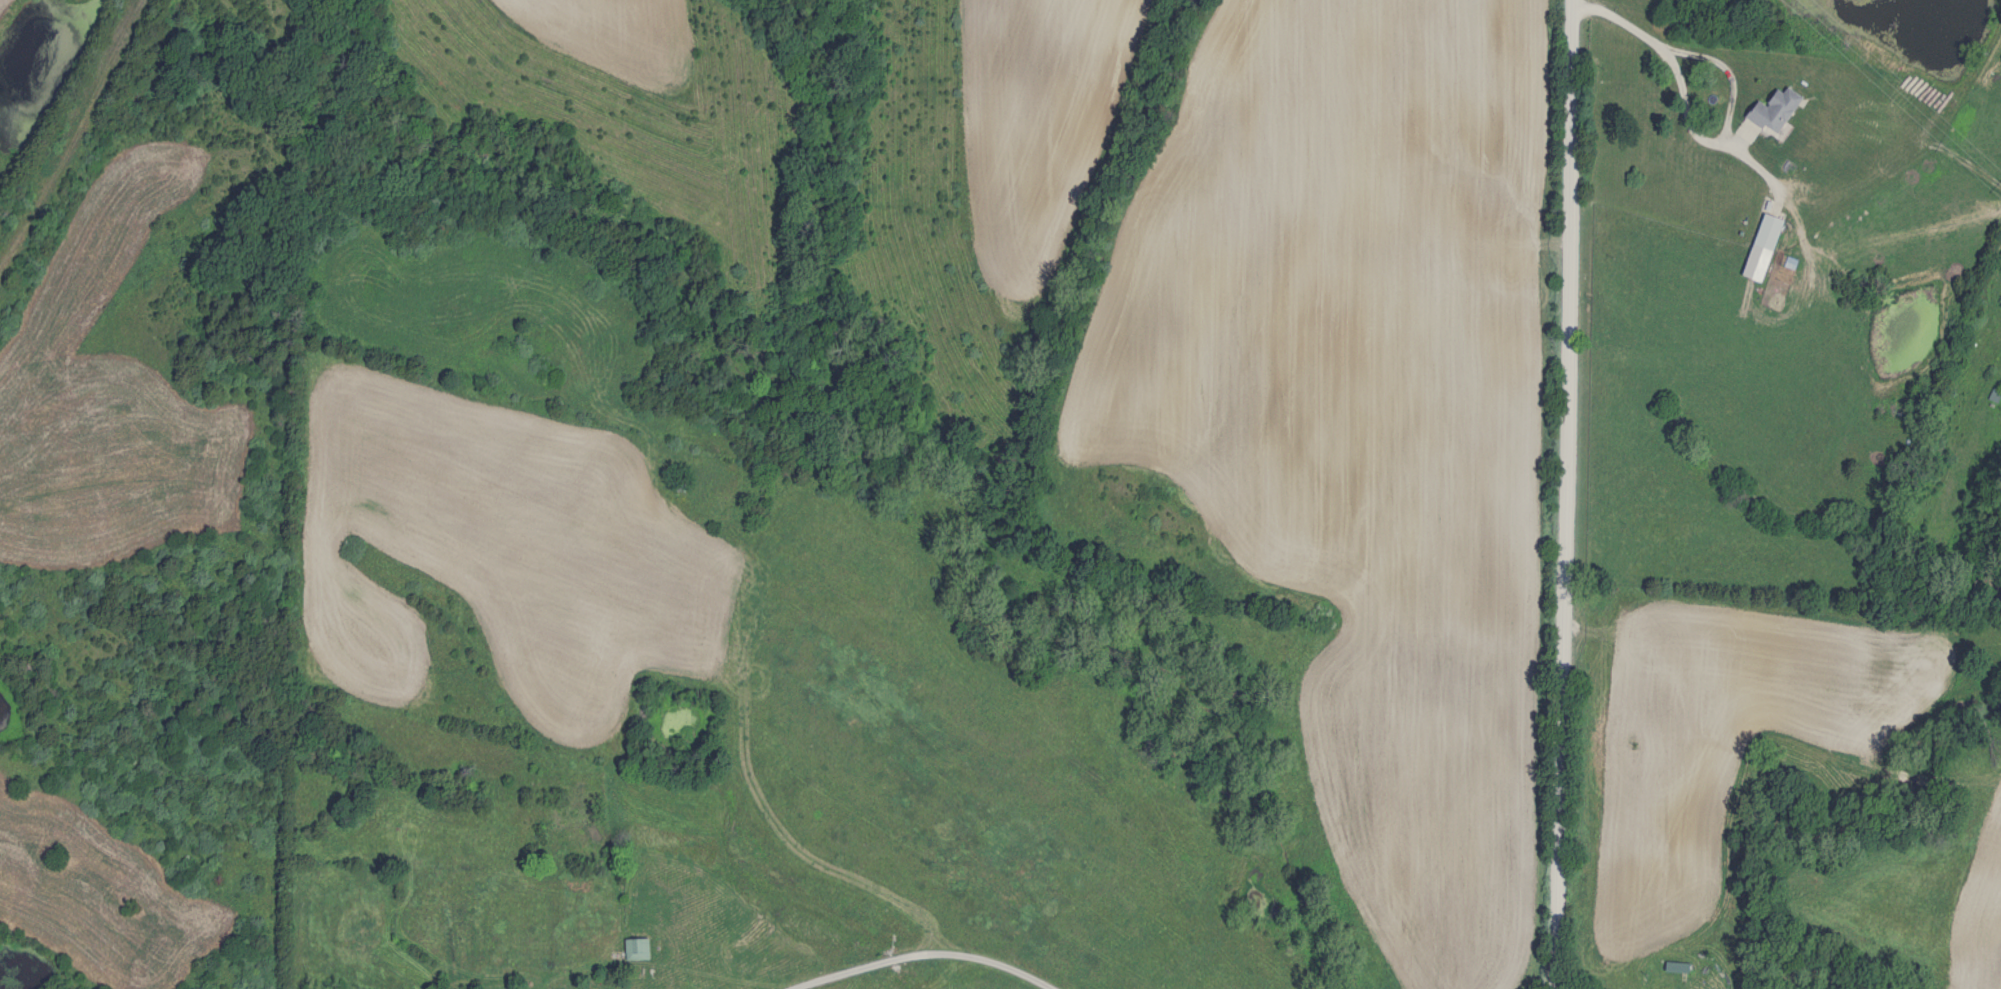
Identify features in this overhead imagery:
road: (1736, 70)
building: (1779, 110)
building: (1772, 231)
building: (1995, 395)
building: (679, 486)
road: (1568, 497)
building: (362, 935)
building: (638, 949)
building: (580, 951)
road: (918, 957)
road: (416, 967)
building: (1680, 967)

